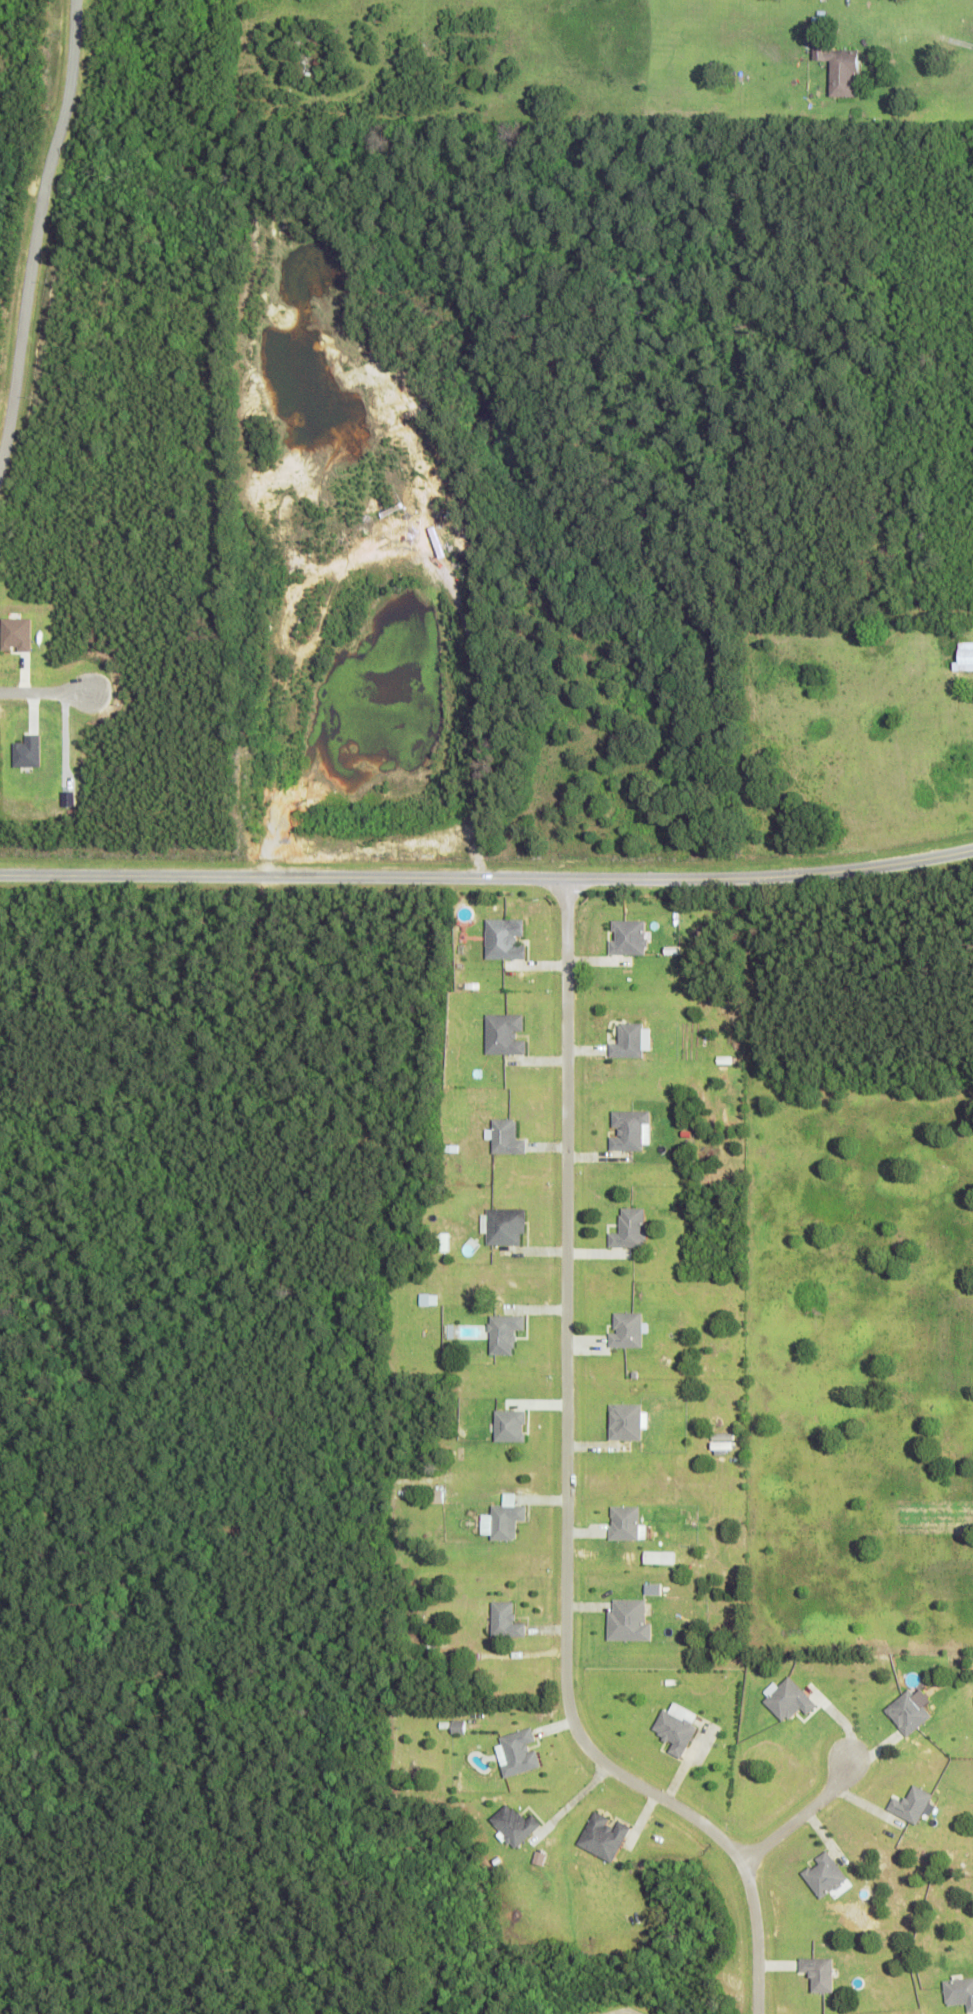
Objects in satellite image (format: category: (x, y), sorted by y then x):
building: (837, 68)
road: (37, 228)
building: (15, 633)
building: (964, 656)
road: (46, 692)
building: (25, 752)
road: (487, 876)
building: (626, 937)
building: (502, 939)
building: (502, 1034)
building: (629, 1041)
building: (626, 1130)
building: (504, 1137)
building: (504, 1226)
building: (628, 1229)
building: (441, 1242)
building: (427, 1299)
building: (626, 1330)
building: (503, 1333)
building: (623, 1421)
building: (508, 1425)
building: (720, 1444)
road: (565, 1487)
building: (433, 1495)
building: (502, 1518)
building: (624, 1522)
building: (657, 1556)
building: (503, 1620)
building: (627, 1620)
building: (786, 1699)
building: (908, 1710)
building: (674, 1727)
building: (516, 1752)
building: (911, 1804)
road: (800, 1816)
building: (513, 1824)
building: (602, 1836)
building: (823, 1875)
building: (817, 1973)
building: (959, 1992)

